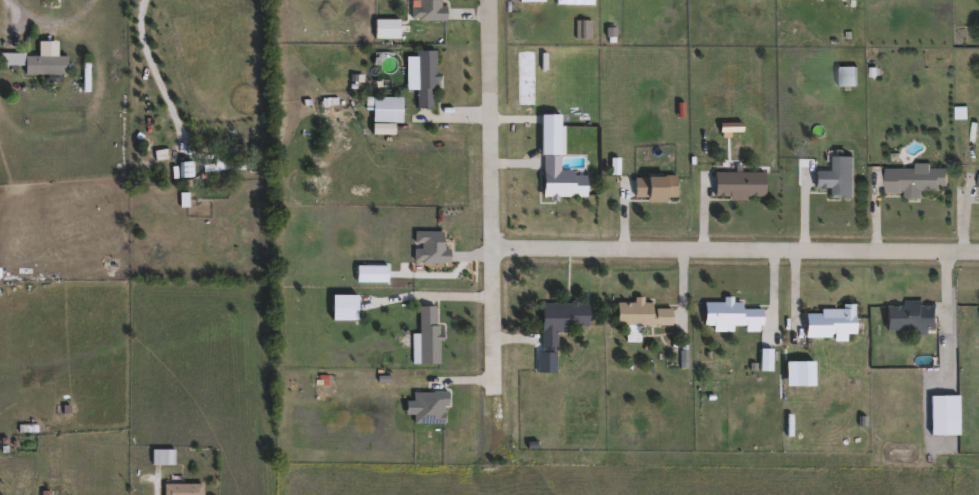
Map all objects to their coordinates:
building: (426, 9)
road: (59, 17)
road: (158, 60)
building: (38, 62)
building: (87, 74)
building: (845, 74)
building: (426, 77)
building: (557, 159)
building: (226, 162)
building: (836, 175)
building: (913, 178)
building: (739, 183)
building: (655, 185)
building: (977, 186)
road: (709, 209)
road: (482, 226)
building: (430, 246)
road: (730, 249)
road: (779, 285)
building: (342, 305)
building: (641, 312)
road: (955, 313)
building: (729, 315)
building: (910, 315)
building: (977, 318)
building: (559, 319)
building: (830, 321)
building: (428, 333)
building: (429, 406)
building: (942, 406)
building: (163, 455)
road: (157, 485)
building: (182, 489)

